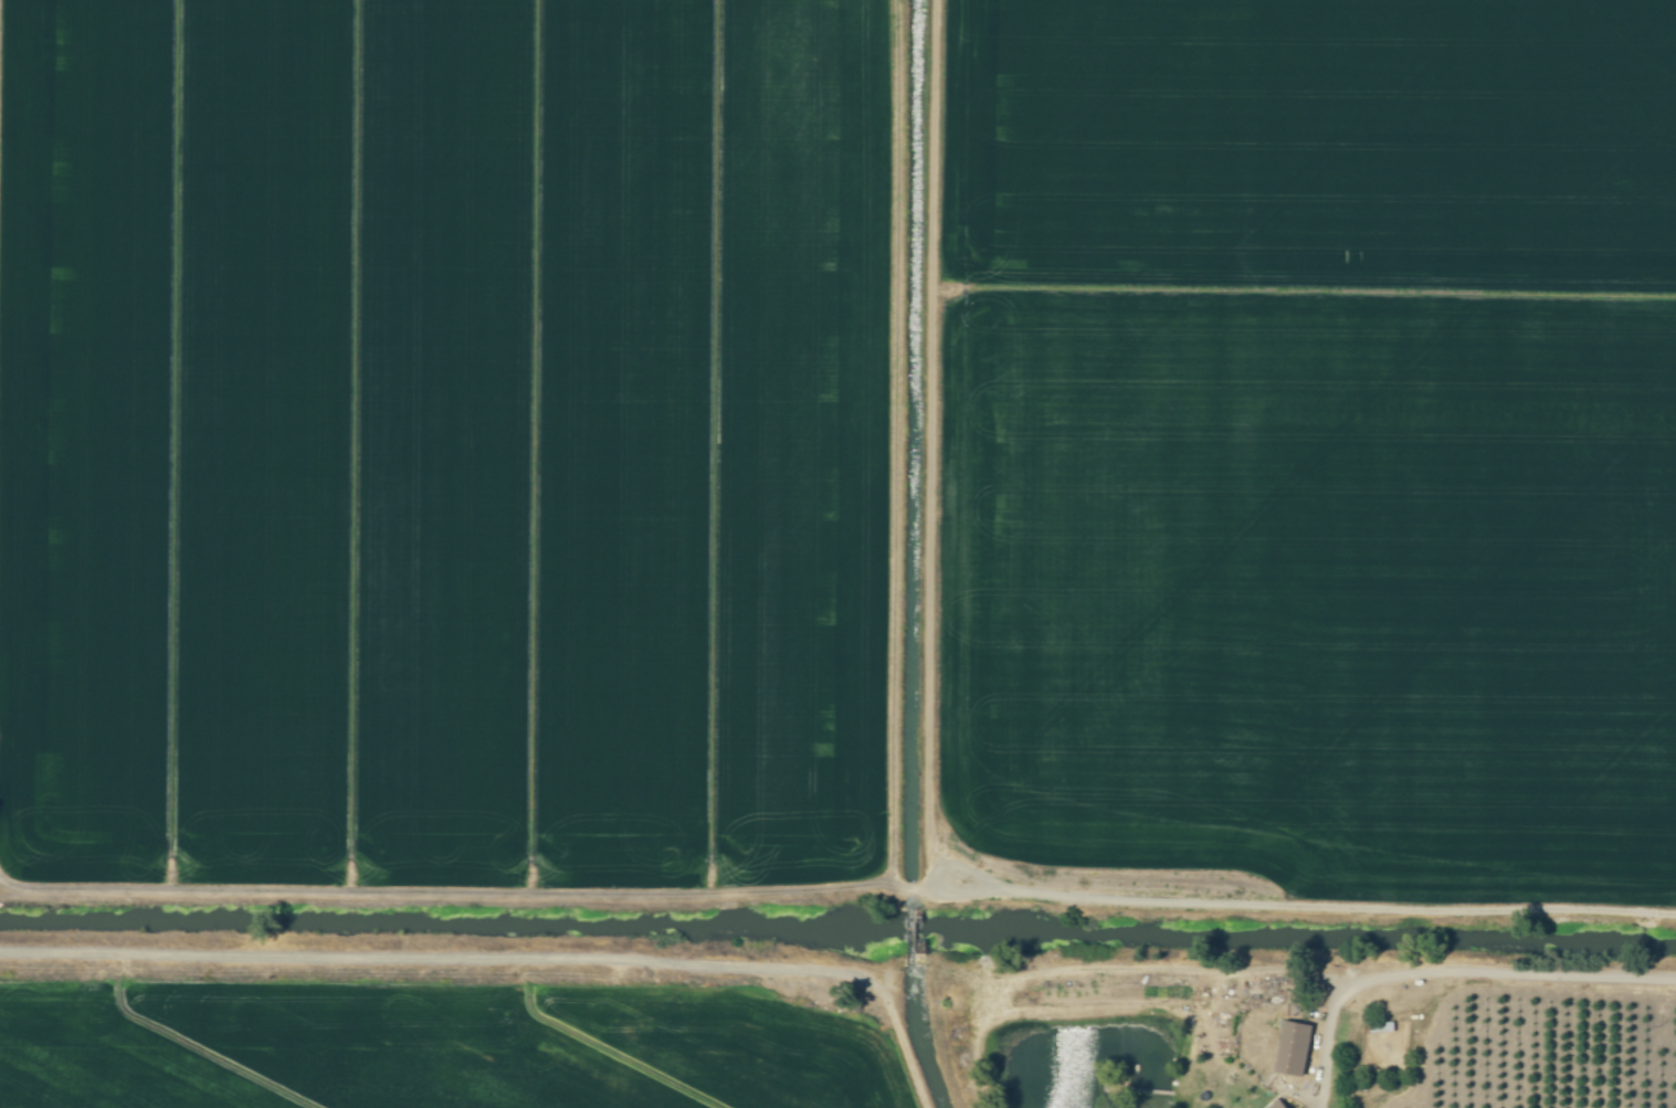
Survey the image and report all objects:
road: (1450, 972)
building: (1383, 1027)
building: (1296, 1047)
building: (1280, 1105)

